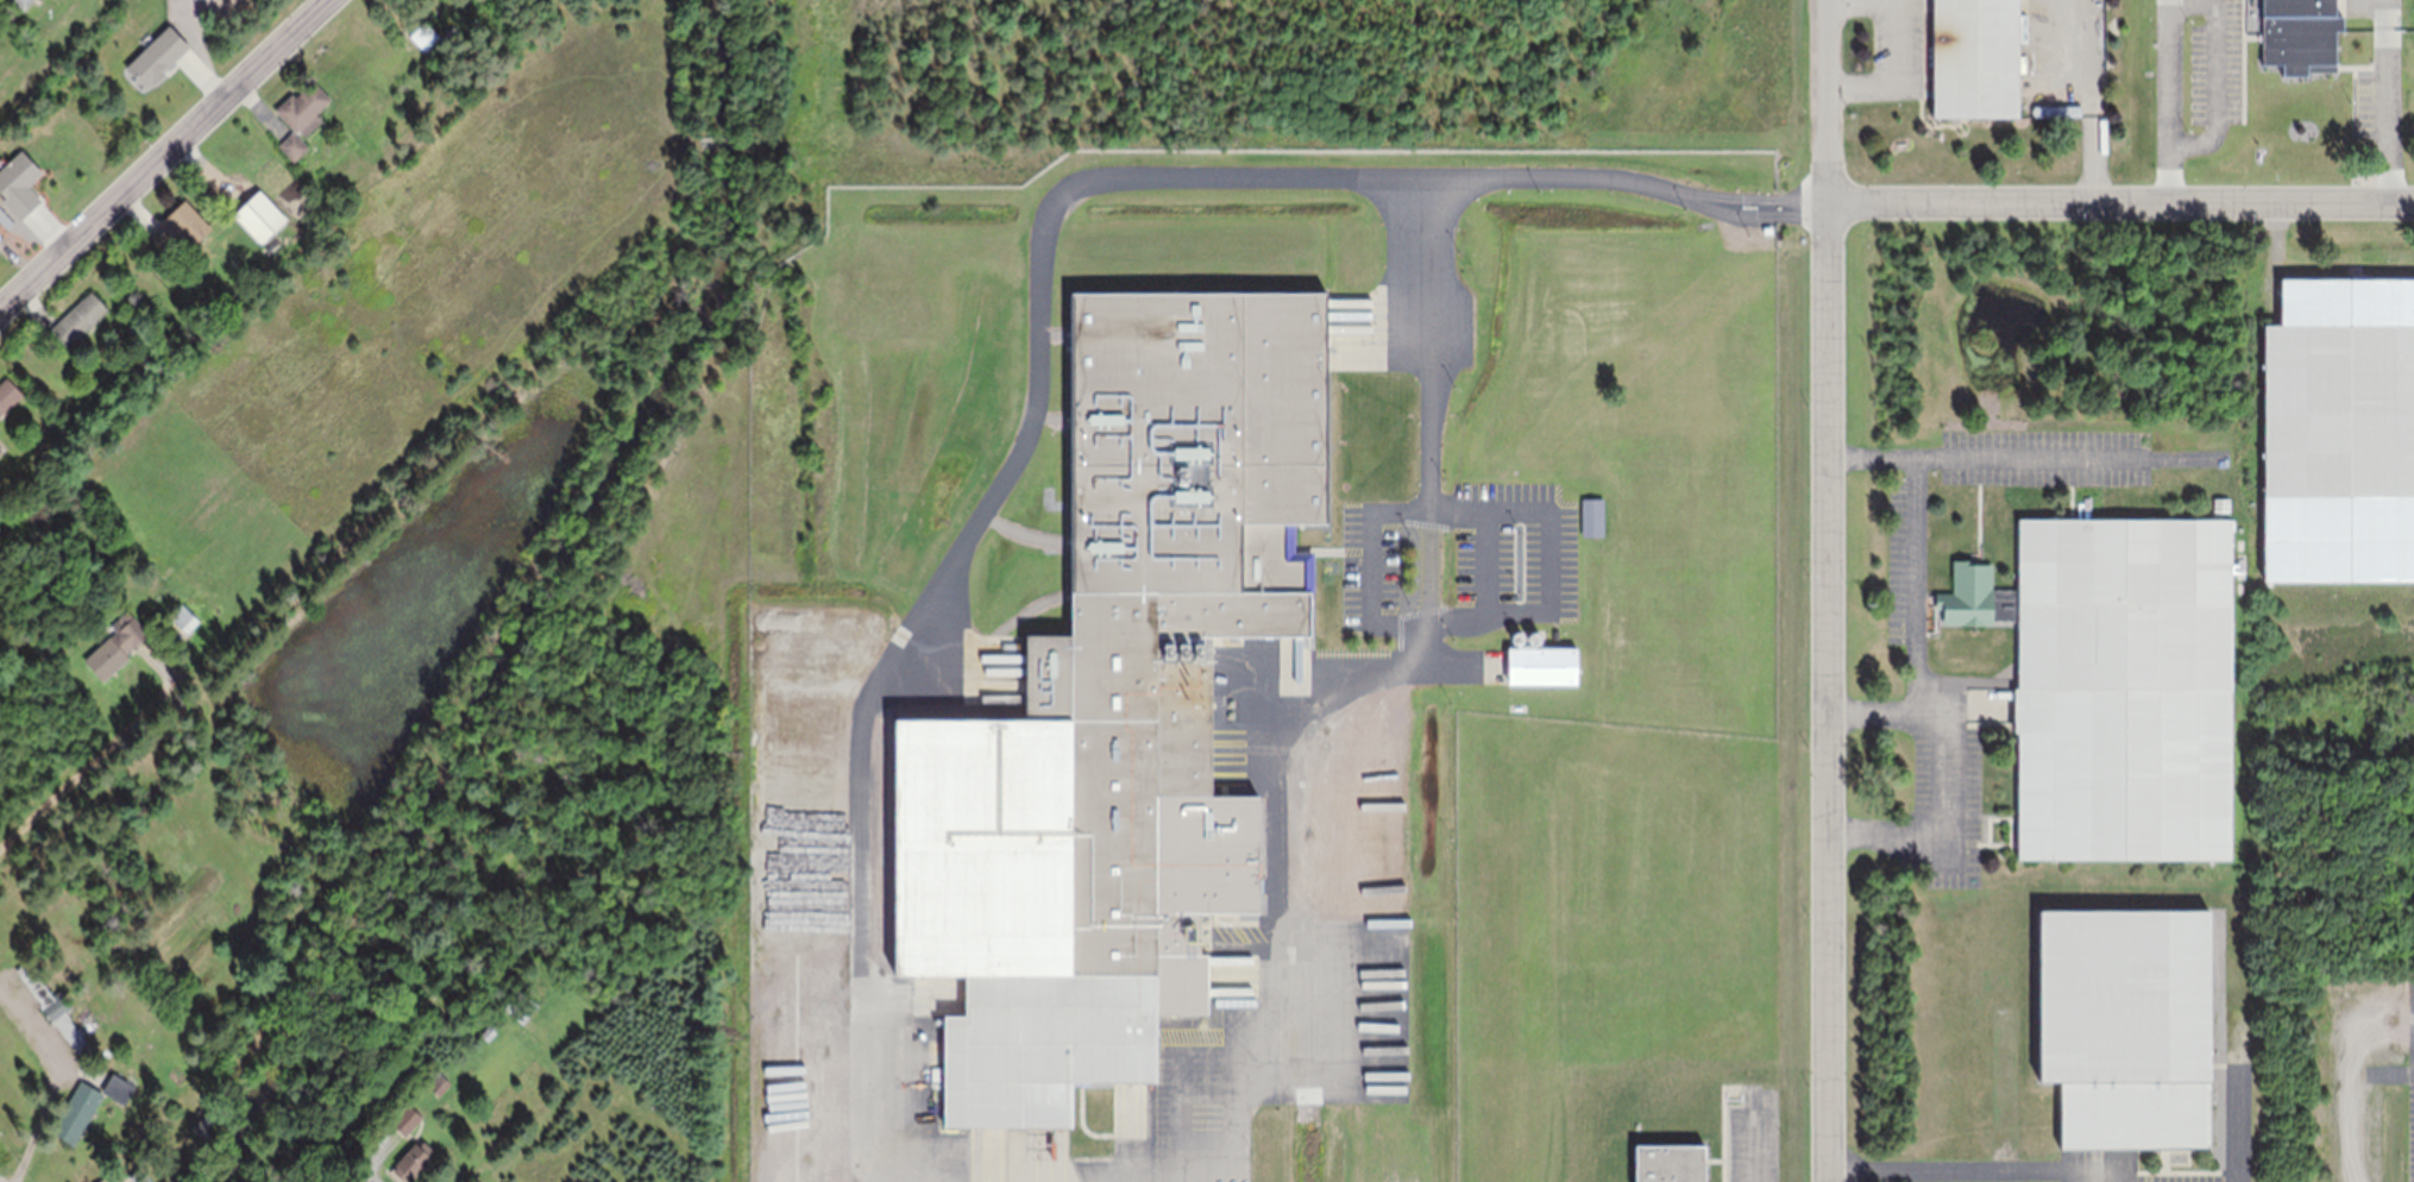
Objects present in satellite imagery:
building: (24, 2)
building: (425, 34)
building: (2300, 34)
building: (156, 56)
building: (1975, 58)
building: (303, 107)
building: (388, 138)
building: (293, 145)
road: (162, 156)
road: (2129, 210)
building: (259, 215)
building: (181, 226)
road: (1037, 312)
building: (78, 319)
building: (8, 394)
building: (2338, 409)
building: (1, 448)
building: (2223, 504)
building: (1314, 515)
building: (1590, 516)
road: (1840, 591)
building: (181, 620)
building: (117, 645)
building: (1535, 664)
building: (2117, 684)
road: (100, 763)
building: (1144, 844)
building: (810, 878)
building: (992, 906)
building: (55, 1005)
building: (522, 1005)
building: (494, 1023)
building: (2126, 1026)
building: (489, 1032)
building: (440, 1084)
building: (119, 1087)
building: (77, 1112)
building: (407, 1119)
building: (203, 1130)
building: (414, 1161)
building: (1671, 1163)
building: (139, 1176)
building: (103, 1180)

